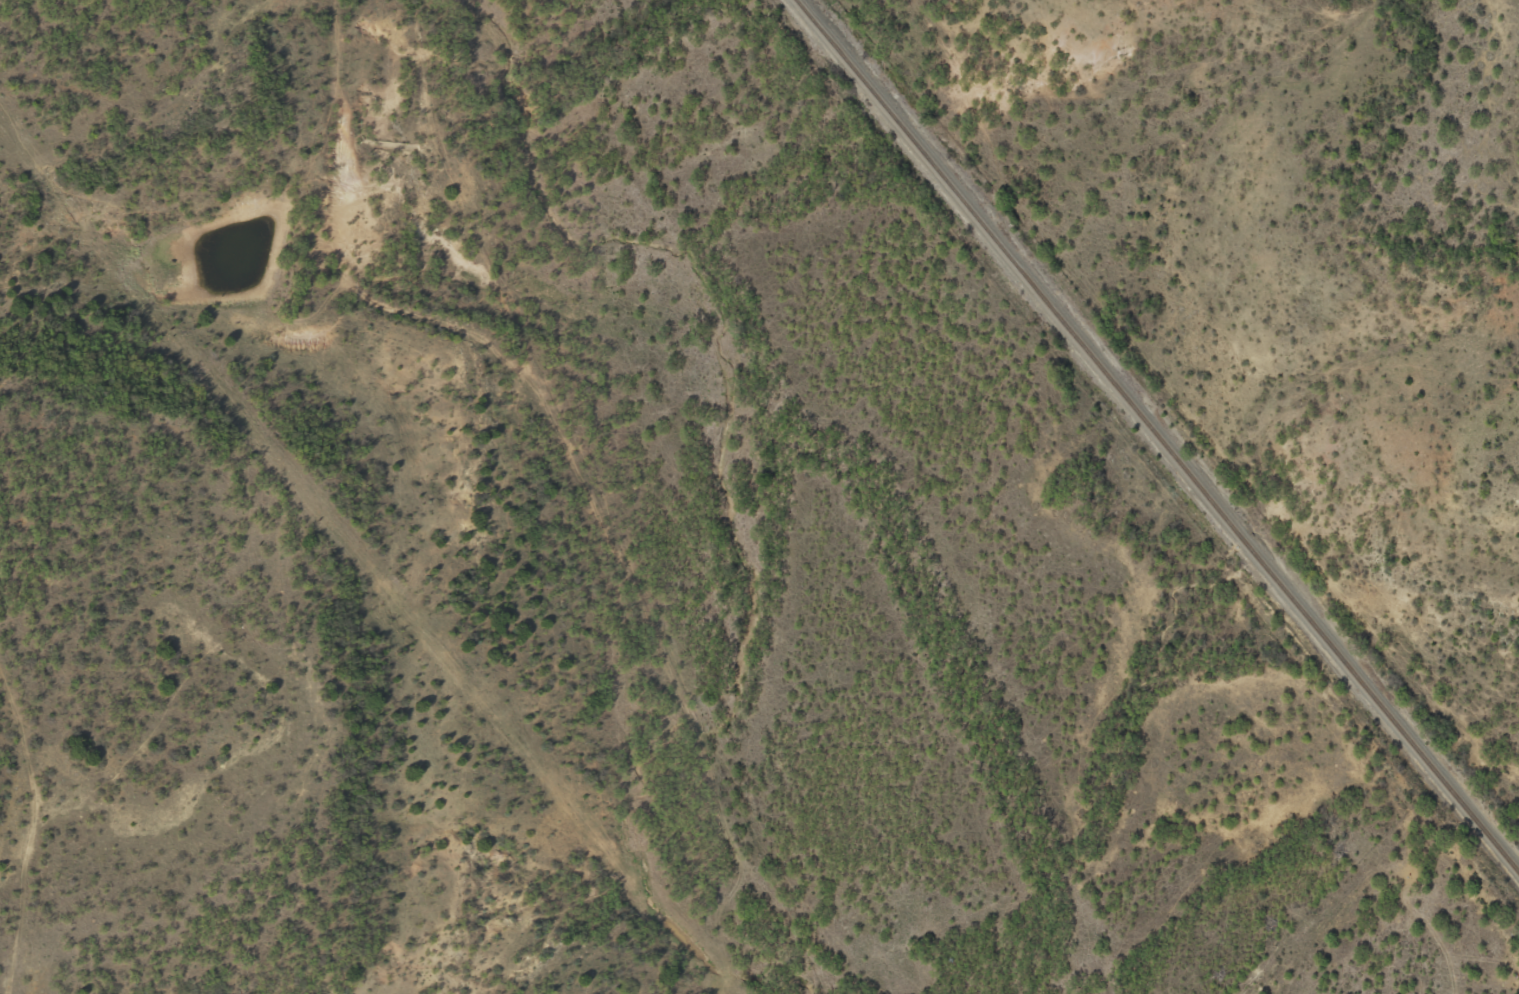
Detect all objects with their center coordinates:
road: (162, 127)
railway: (1156, 436)
road: (228, 733)
road: (20, 734)
road: (38, 812)

